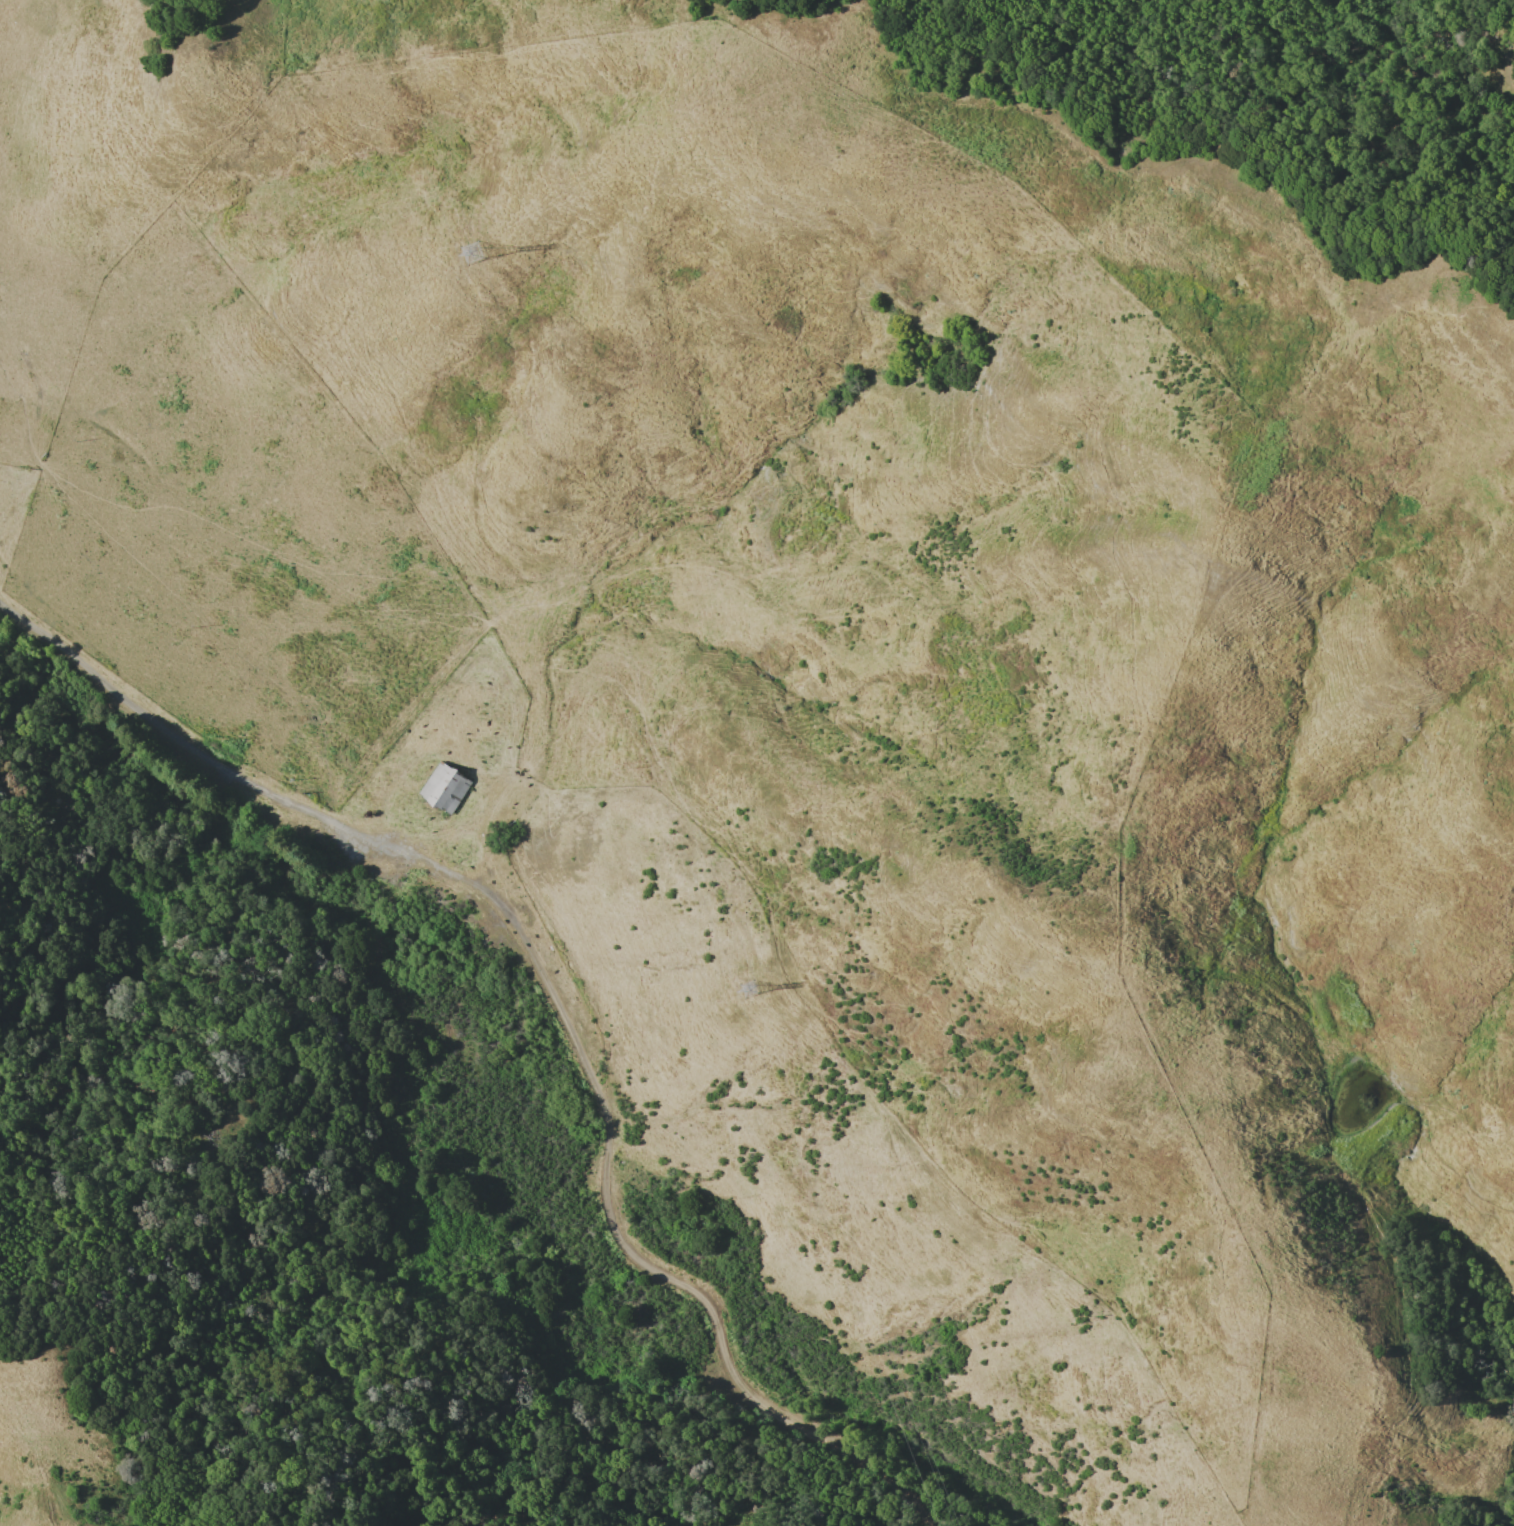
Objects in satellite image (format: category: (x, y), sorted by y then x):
power tower: (473, 246)
building: (447, 789)
power tower: (751, 995)
road: (554, 1019)

